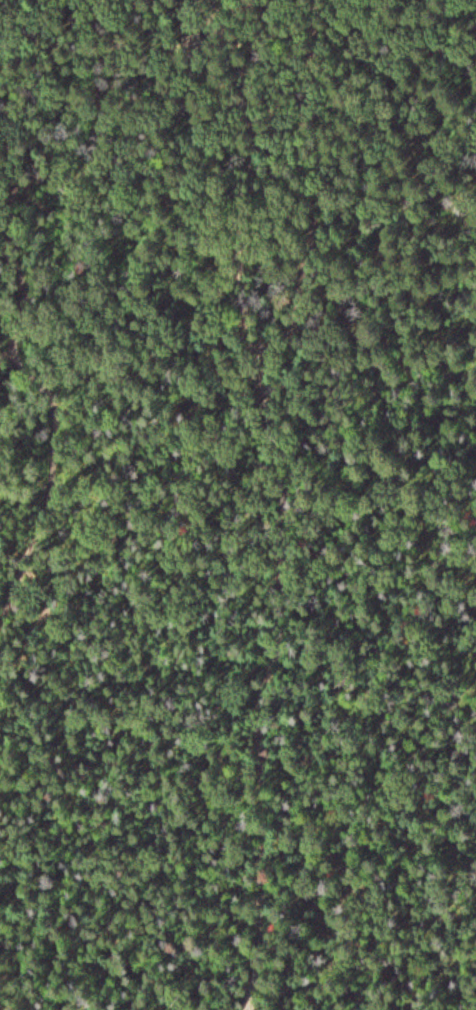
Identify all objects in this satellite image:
road: (29, 13)
road: (263, 503)
road: (87, 504)

